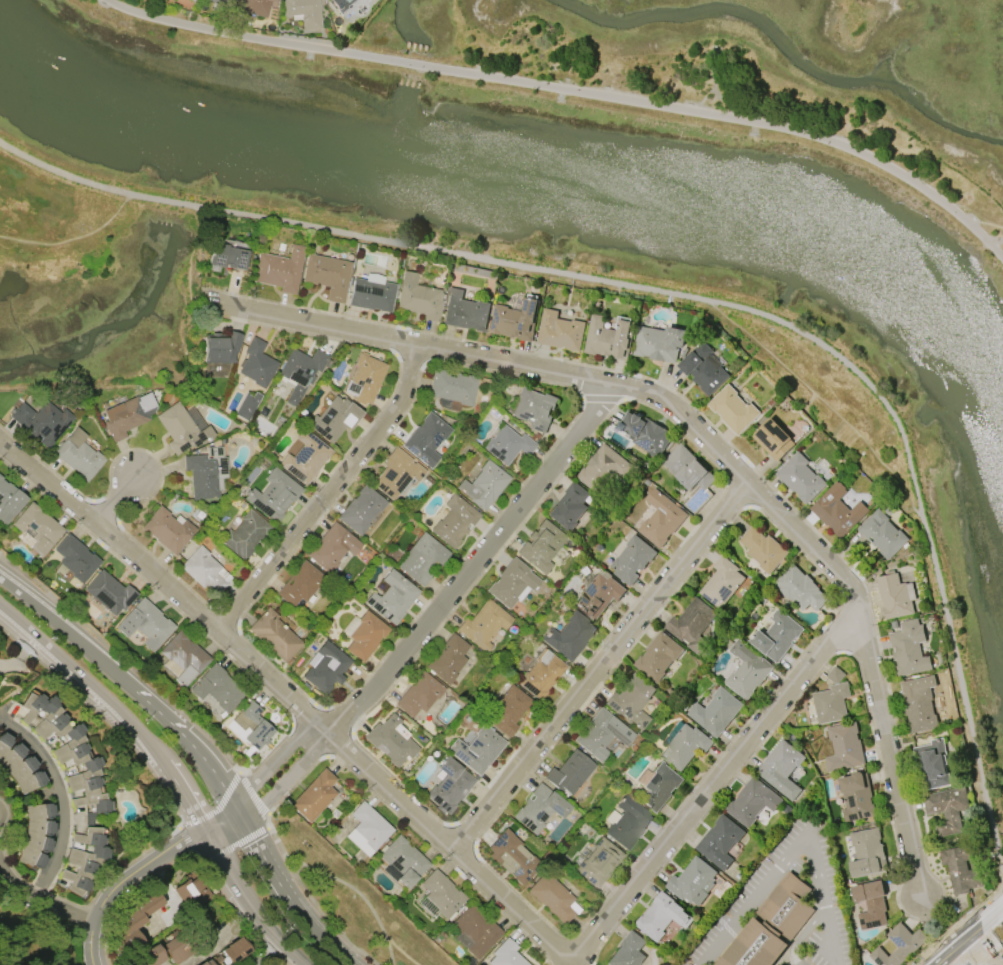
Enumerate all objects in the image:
building: (190, 0)
building: (191, 0)
building: (222, 2)
building: (341, 5)
building: (254, 7)
building: (302, 12)
park: (757, 65)
road: (567, 92)
river: (543, 190)
road: (72, 239)
road: (998, 245)
building: (227, 254)
road: (188, 269)
building: (279, 271)
building: (327, 276)
building: (371, 293)
building: (418, 298)
road: (691, 299)
building: (464, 312)
building: (515, 321)
building: (560, 332)
building: (609, 339)
building: (660, 344)
building: (221, 348)
building: (256, 365)
building: (703, 370)
building: (300, 372)
building: (363, 378)
building: (451, 390)
road: (824, 402)
building: (246, 406)
building: (534, 409)
building: (733, 410)
building: (126, 415)
building: (334, 419)
building: (41, 422)
building: (181, 429)
building: (645, 433)
building: (773, 439)
building: (426, 442)
road: (705, 443)
building: (507, 445)
building: (78, 455)
building: (305, 458)
building: (602, 469)
building: (688, 469)
building: (396, 474)
building: (201, 476)
building: (800, 480)
building: (483, 485)
road: (328, 493)
building: (273, 494)
building: (8, 501)
road: (115, 502)
building: (361, 510)
building: (569, 511)
building: (838, 511)
building: (661, 519)
building: (453, 521)
building: (37, 528)
building: (166, 531)
building: (881, 534)
building: (244, 535)
building: (331, 548)
building: (540, 548)
building: (762, 549)
building: (421, 558)
building: (75, 559)
building: (632, 560)
road: (475, 565)
building: (204, 571)
building: (510, 583)
building: (723, 583)
building: (299, 584)
building: (800, 590)
building: (108, 593)
building: (599, 596)
building: (895, 596)
building: (392, 597)
building: (483, 624)
building: (692, 625)
building: (144, 626)
building: (273, 635)
building: (365, 636)
building: (568, 636)
building: (777, 636)
building: (909, 648)
building: (184, 657)
building: (658, 657)
building: (447, 659)
building: (325, 667)
road: (600, 668)
building: (747, 670)
building: (540, 674)
road: (133, 687)
building: (216, 688)
building: (418, 695)
building: (631, 701)
building: (920, 703)
building: (831, 704)
road: (117, 707)
building: (507, 710)
building: (716, 712)
road: (103, 718)
building: (251, 727)
building: (601, 736)
building: (390, 741)
building: (685, 747)
building: (844, 747)
building: (476, 749)
building: (67, 750)
building: (19, 765)
building: (932, 766)
building: (781, 769)
building: (569, 773)
road: (261, 775)
road: (290, 780)
building: (448, 785)
building: (659, 787)
building: (313, 796)
building: (856, 797)
road: (256, 801)
building: (752, 802)
road: (57, 805)
building: (538, 808)
road: (219, 809)
building: (947, 809)
road: (258, 823)
building: (627, 823)
road: (227, 828)
building: (368, 829)
building: (36, 834)
road: (190, 841)
building: (720, 842)
road: (236, 846)
road: (796, 852)
building: (867, 853)
road: (455, 856)
building: (512, 857)
building: (84, 860)
building: (402, 862)
building: (597, 862)
building: (961, 870)
road: (111, 881)
road: (127, 881)
building: (693, 882)
road: (345, 885)
building: (190, 893)
building: (441, 895)
road: (129, 896)
building: (551, 898)
road: (292, 901)
road: (36, 903)
road: (246, 904)
building: (871, 904)
building: (786, 910)
road: (236, 912)
building: (662, 917)
road: (985, 918)
building: (135, 922)
road: (993, 923)
building: (476, 930)
road: (802, 934)
road: (994, 939)
road: (221, 941)
building: (900, 946)
building: (754, 949)
road: (956, 949)
building: (234, 950)
building: (627, 951)
road: (401, 952)
building: (151, 956)
road: (973, 956)
building: (505, 957)
building: (204, 962)

